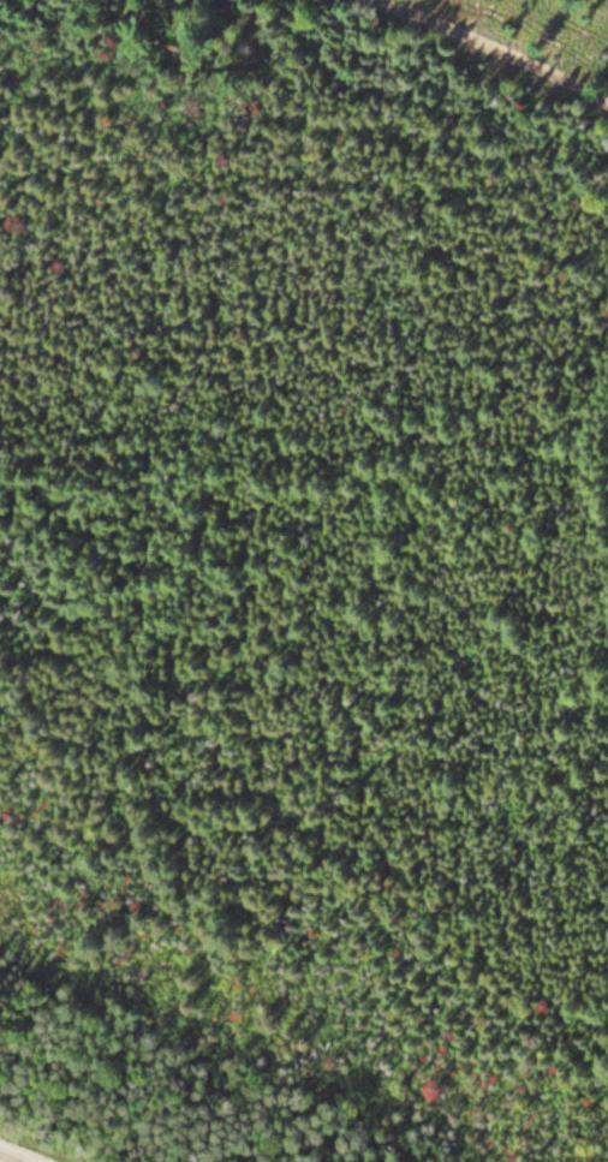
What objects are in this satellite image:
road: (500, 50)

